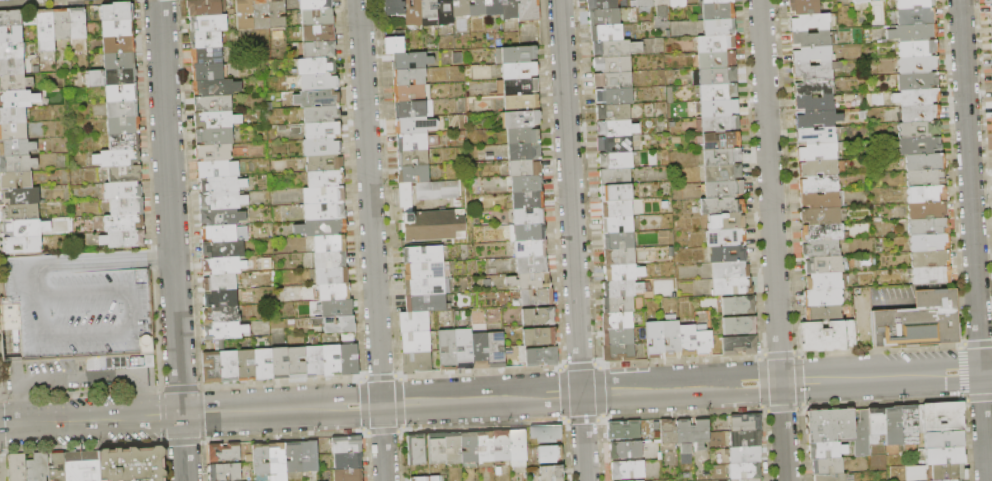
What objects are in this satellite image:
building: (711, 0)
building: (863, 0)
building: (990, 0)
building: (673, 2)
building: (599, 3)
building: (643, 3)
building: (658, 3)
building: (911, 3)
building: (314, 4)
building: (388, 5)
building: (491, 6)
building: (802, 6)
building: (475, 7)
building: (204, 8)
building: (458, 8)
building: (506, 8)
building: (716, 9)
building: (991, 9)
building: (114, 10)
building: (526, 10)
building: (442, 11)
building: (411, 12)
building: (427, 12)
building: (260, 14)
building: (276, 14)
building: (913, 14)
building: (243, 15)
building: (601, 15)
building: (9, 16)
building: (316, 17)
building: (808, 20)
building: (59, 23)
building: (75, 23)
building: (207, 24)
building: (991, 24)
building: (717, 25)
building: (115, 26)
building: (43, 30)
building: (603, 31)
building: (914, 31)
building: (10, 32)
building: (317, 33)
building: (809, 37)
building: (205, 40)
building: (713, 41)
building: (116, 42)
building: (392, 43)
building: (609, 47)
building: (914, 47)
building: (11, 49)
building: (317, 49)
building: (515, 52)
building: (810, 53)
building: (206, 57)
building: (714, 57)
building: (118, 58)
building: (407, 58)
building: (609, 63)
building: (915, 63)
building: (12, 65)
building: (315, 66)
building: (516, 66)
building: (811, 68)
building: (207, 72)
building: (715, 73)
building: (408, 74)
building: (117, 75)
building: (611, 79)
building: (916, 79)
building: (12, 80)
building: (316, 82)
building: (517, 82)
building: (812, 84)
building: (213, 88)
building: (716, 89)
building: (118, 90)
building: (409, 90)
building: (612, 95)
building: (916, 95)
building: (13, 96)
building: (319, 98)
building: (518, 98)
building: (813, 100)
building: (212, 105)
building: (717, 105)
building: (120, 106)
building: (410, 106)
building: (613, 111)
building: (917, 111)
building: (11, 113)
building: (320, 115)
building: (519, 115)
building: (813, 116)
building: (213, 120)
building: (717, 121)
building: (410, 122)
building: (122, 123)
building: (612, 126)
building: (917, 127)
building: (12, 129)
building: (321, 130)
building: (519, 133)
building: (817, 133)
building: (214, 136)
building: (718, 137)
building: (122, 140)
building: (411, 140)
building: (613, 142)
building: (918, 144)
building: (14, 145)
building: (322, 147)
building: (522, 149)
building: (818, 150)
building: (215, 153)
building: (719, 154)
building: (114, 156)
building: (411, 157)
building: (614, 158)
building: (922, 160)
building: (17, 161)
building: (322, 164)
building: (522, 165)
building: (817, 165)
building: (216, 168)
building: (122, 171)
building: (720, 171)
building: (413, 173)
building: (613, 174)
building: (923, 175)
building: (14, 177)
building: (323, 179)
building: (522, 181)
building: (817, 182)
building: (217, 184)
building: (721, 187)
building: (123, 188)
building: (614, 190)
building: (436, 191)
building: (925, 192)
building: (18, 193)
building: (322, 196)
building: (405, 196)
building: (524, 198)
building: (818, 198)
building: (219, 200)
building: (719, 204)
building: (124, 205)
building: (615, 206)
building: (925, 208)
building: (16, 210)
building: (324, 211)
building: (525, 214)
building: (819, 214)
building: (218, 217)
building: (724, 220)
building: (122, 221)
building: (616, 223)
building: (927, 224)
building: (23, 225)
building: (324, 227)
building: (432, 227)
building: (526, 230)
building: (820, 232)
building: (224, 233)
building: (724, 236)
building: (123, 238)
building: (928, 239)
road: (171, 240)
road: (372, 240)
road: (572, 240)
building: (617, 240)
road: (772, 240)
road: (973, 240)
building: (20, 243)
building: (330, 243)
building: (527, 247)
building: (820, 248)
building: (225, 250)
building: (724, 253)
building: (420, 255)
building: (617, 256)
building: (929, 256)
building: (330, 261)
road: (98, 262)
building: (529, 263)
building: (821, 264)
building: (225, 265)
building: (422, 269)
building: (726, 269)
building: (619, 271)
building: (930, 274)
building: (331, 277)
road: (25, 280)
building: (532, 280)
building: (822, 280)
building: (220, 282)
road: (937, 285)
building: (423, 286)
building: (729, 286)
building: (619, 287)
building: (666, 288)
road: (85, 292)
building: (331, 292)
road: (32, 295)
building: (821, 296)
building: (534, 297)
building: (222, 298)
road: (893, 302)
parking lot: (78, 303)
building: (424, 303)
building: (620, 304)
building: (736, 305)
building: (75, 306)
building: (336, 308)
building: (823, 311)
road: (132, 312)
building: (223, 314)
building: (536, 316)
road: (40, 317)
building: (616, 320)
building: (912, 320)
building: (412, 321)
building: (337, 324)
building: (737, 325)
building: (224, 330)
building: (539, 335)
building: (820, 335)
building: (617, 336)
road: (87, 337)
building: (669, 338)
building: (653, 339)
building: (685, 339)
building: (414, 340)
building: (701, 342)
building: (737, 346)
building: (462, 348)
building: (446, 349)
building: (494, 349)
building: (477, 350)
building: (618, 353)
building: (540, 355)
building: (347, 359)
building: (416, 361)
building: (296, 362)
building: (313, 362)
building: (330, 362)
building: (278, 365)
building: (243, 366)
building: (261, 366)
building: (209, 367)
building: (227, 367)
road: (78, 379)
road: (495, 398)
building: (944, 417)
building: (746, 423)
building: (877, 424)
building: (909, 425)
building: (893, 427)
building: (841, 428)
building: (624, 431)
building: (668, 432)
building: (546, 434)
building: (702, 434)
building: (746, 438)
building: (685, 440)
building: (944, 440)
building: (347, 445)
building: (518, 445)
building: (502, 446)
building: (470, 447)
building: (485, 447)
building: (453, 448)
building: (417, 449)
building: (437, 449)
building: (626, 450)
building: (828, 450)
building: (224, 452)
building: (550, 454)
building: (746, 454)
building: (945, 456)
building: (294, 457)
building: (310, 457)
building: (261, 459)
building: (278, 461)
building: (349, 461)
building: (133, 464)
building: (83, 466)
building: (828, 466)
building: (17, 467)
building: (57, 467)
building: (38, 468)
building: (628, 471)
building: (745, 471)
building: (225, 472)
building: (913, 472)
building: (948, 472)
building: (551, 473)
building: (348, 475)
building: (831, 477)
building: (428, 478)
building: (746, 479)
building: (642, 480)
building: (957, 480)

